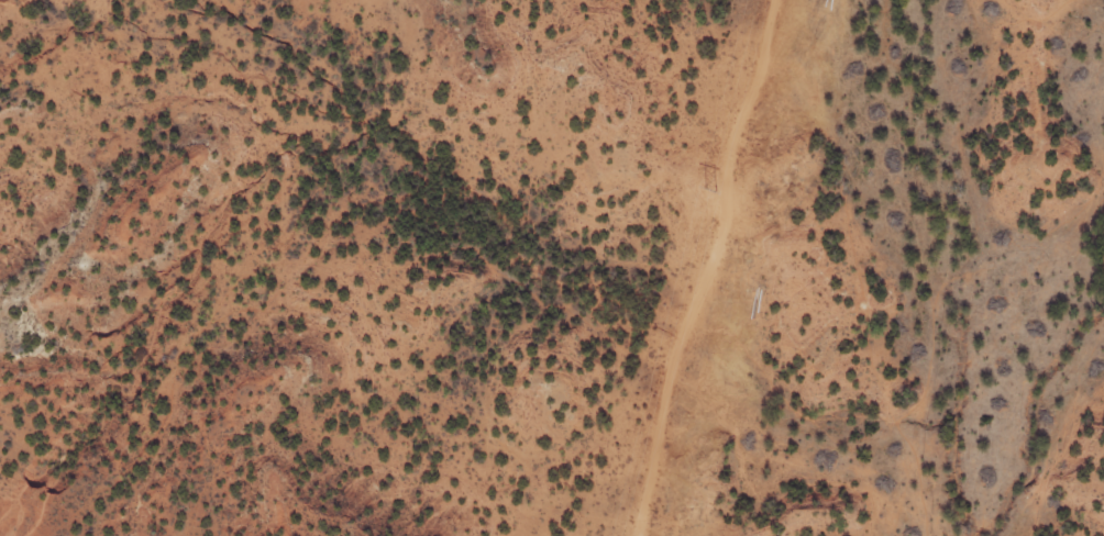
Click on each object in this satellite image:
power tower: (711, 189)

